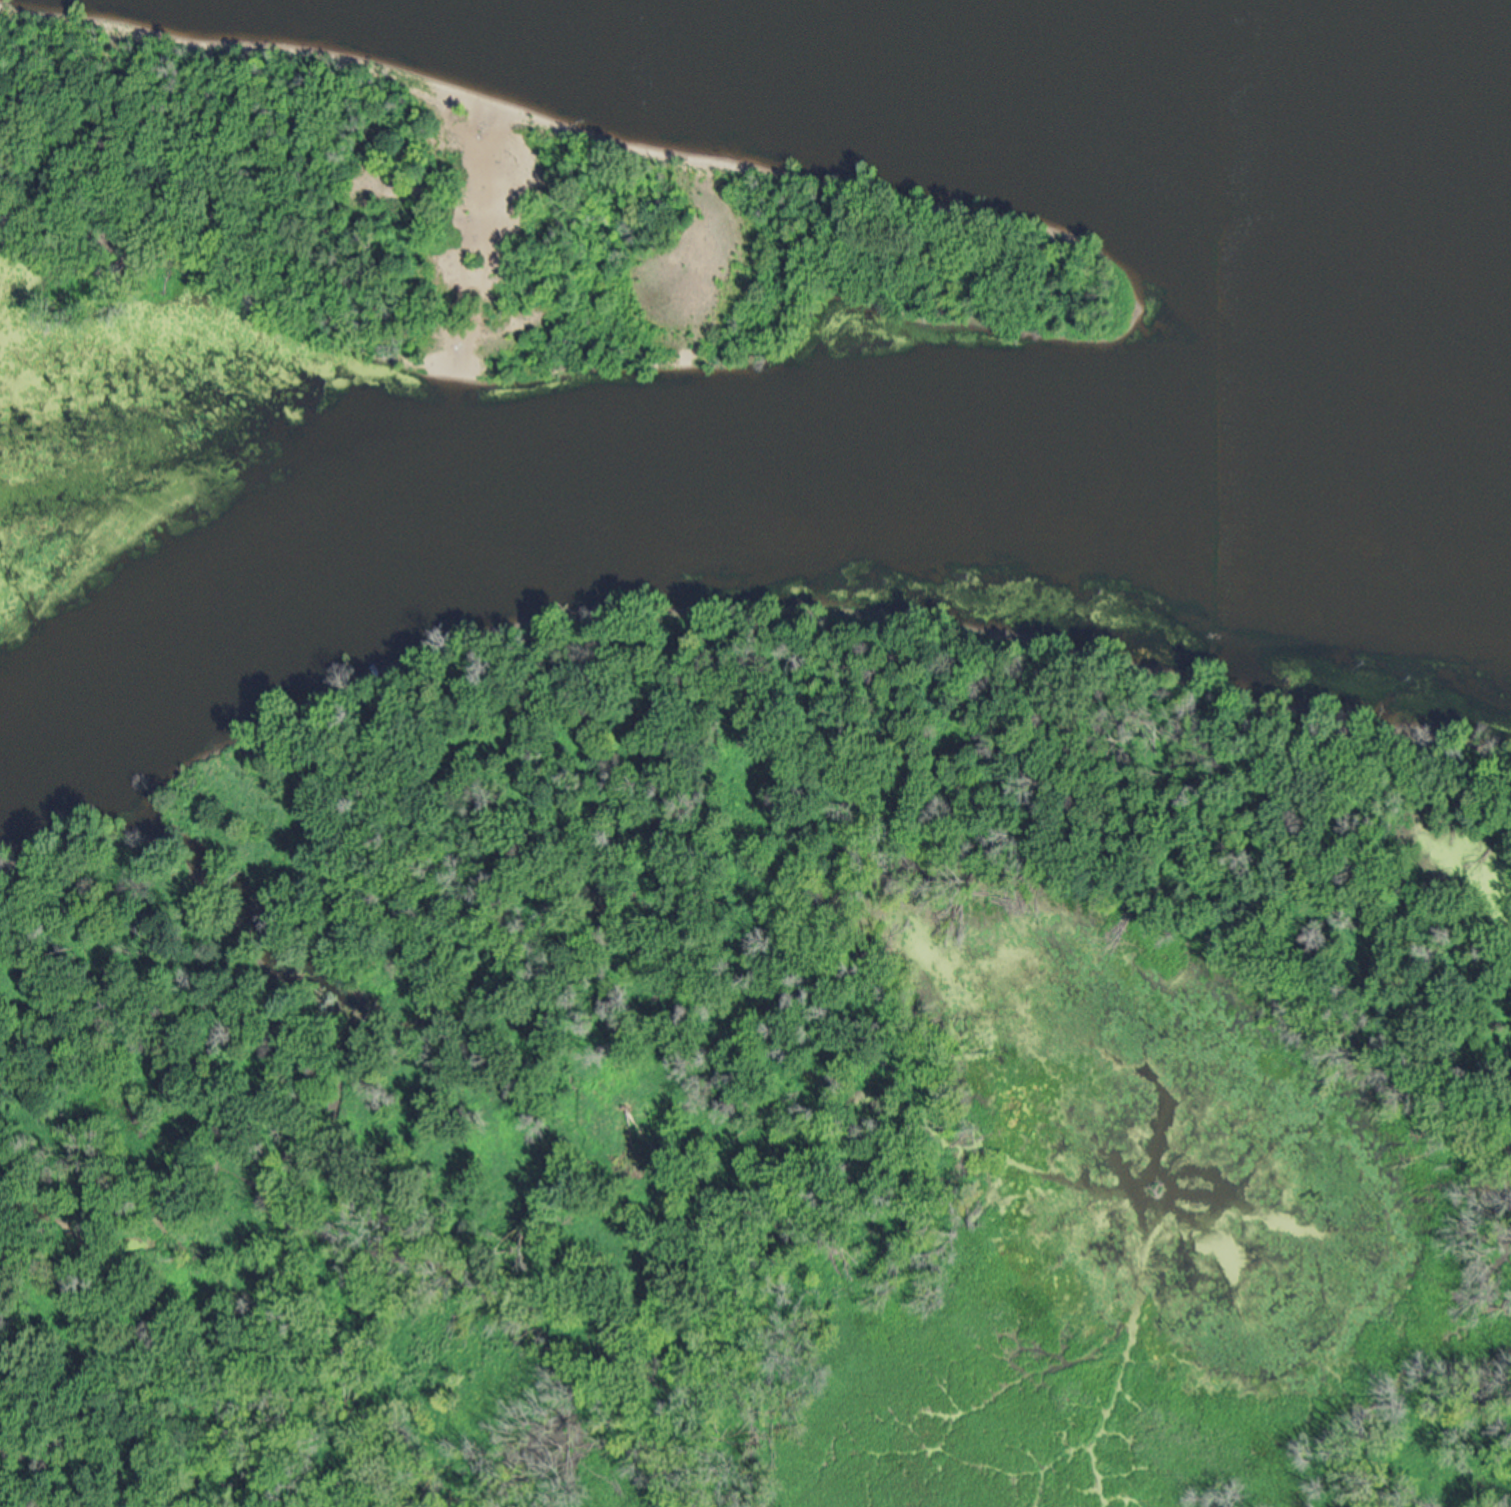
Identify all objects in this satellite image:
river: (1484, 9)

